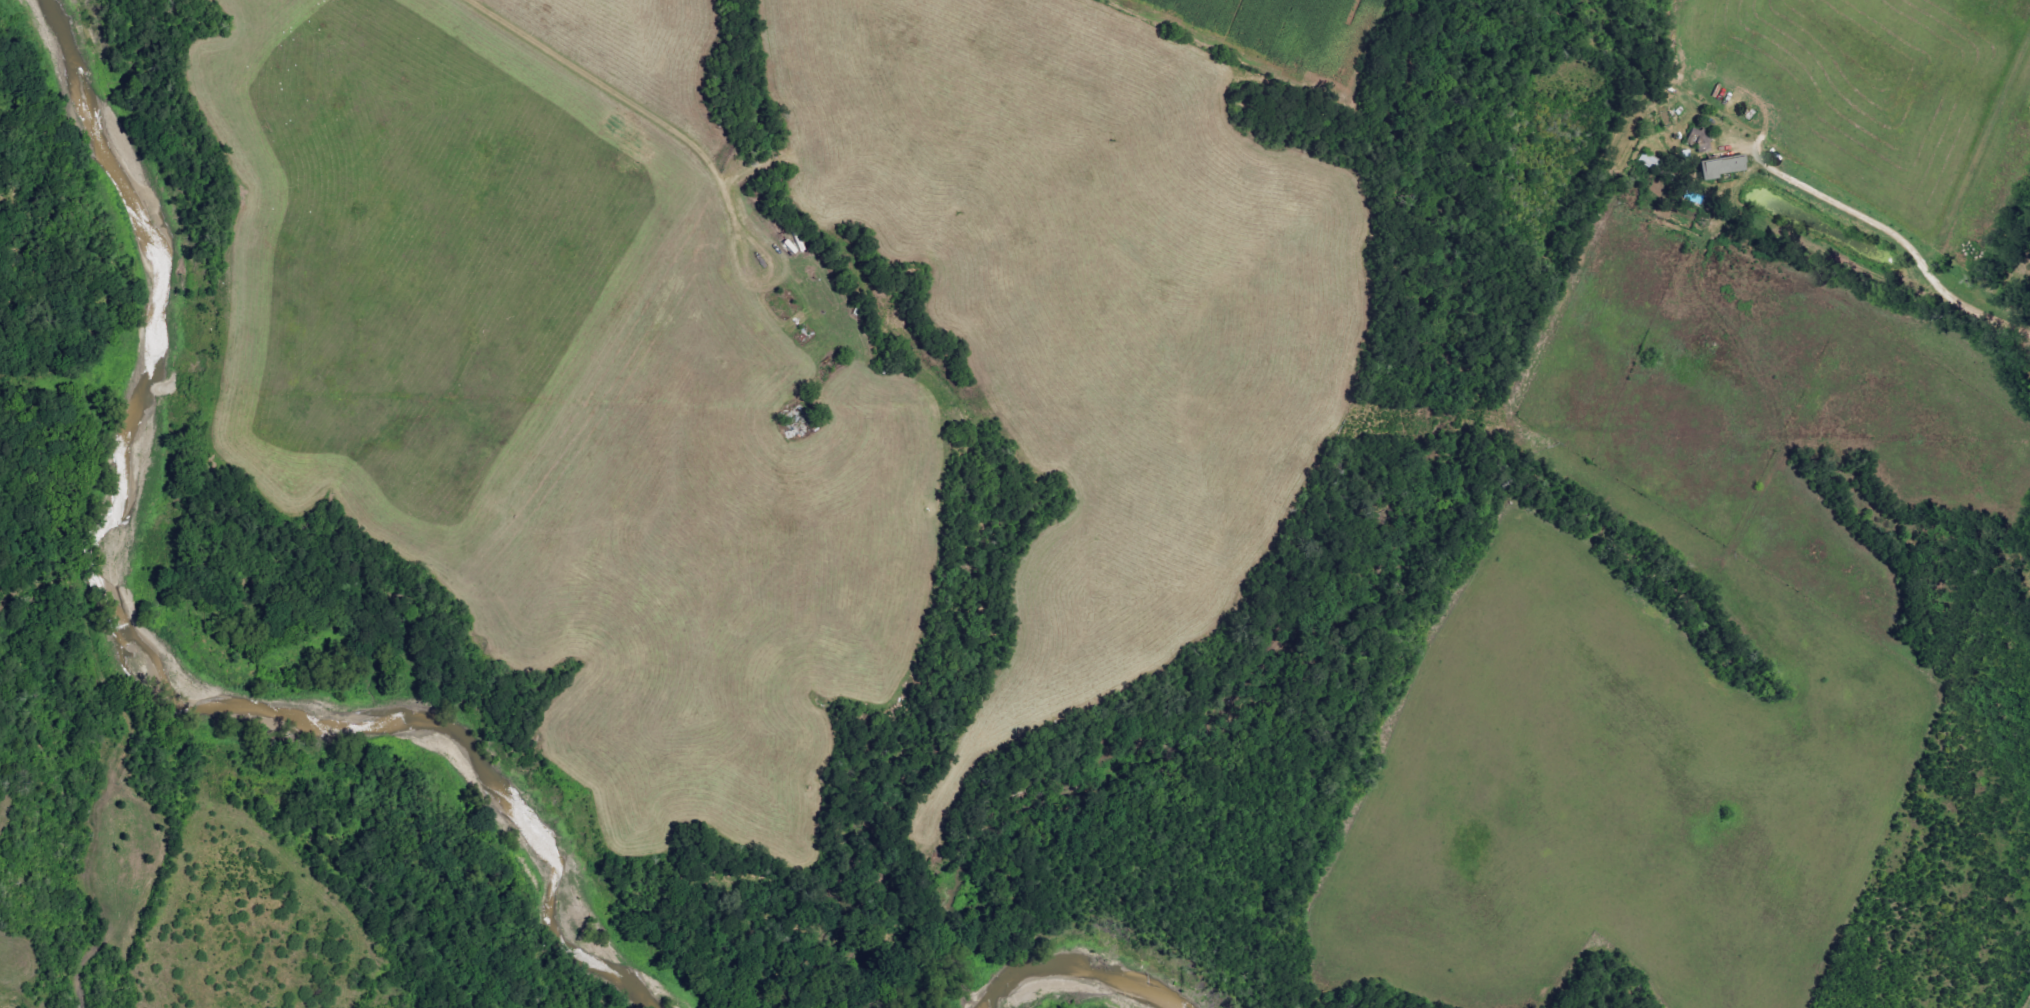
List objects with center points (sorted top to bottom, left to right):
road: (576, 67)
building: (1717, 166)
road: (1901, 248)

